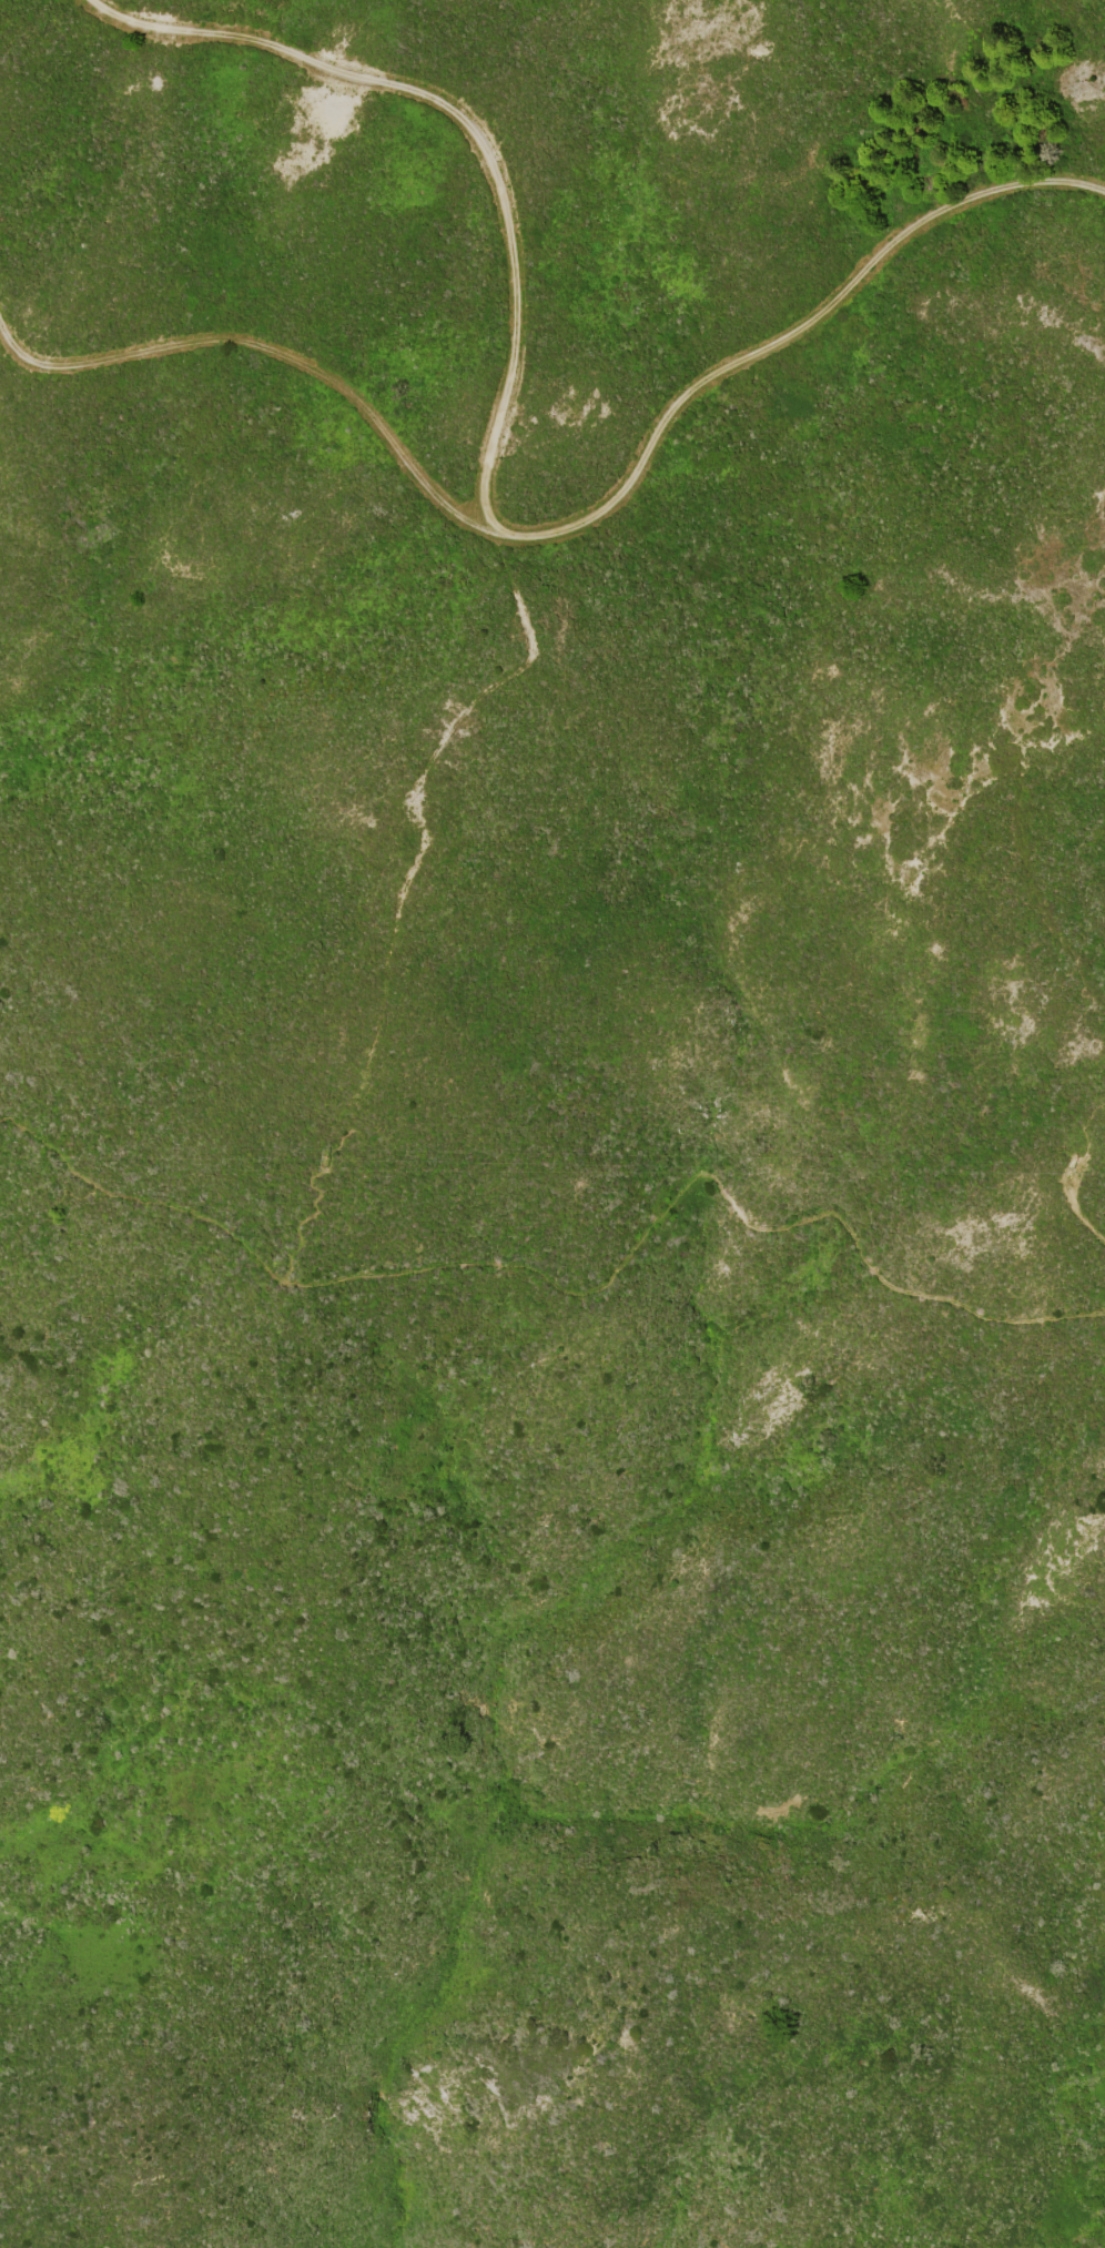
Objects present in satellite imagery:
road: (474, 131)
road: (574, 527)
road: (1015, 792)
road: (1075, 1183)
road: (572, 1287)
park: (555, 1704)

